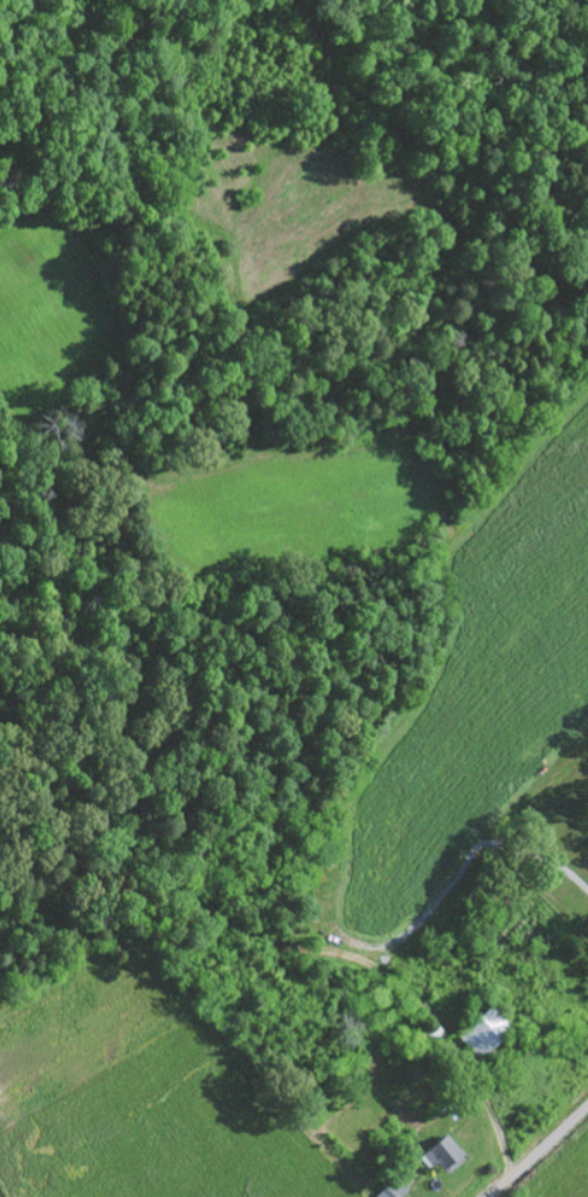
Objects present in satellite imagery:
building: (487, 1033)
road: (539, 1152)
building: (448, 1155)

